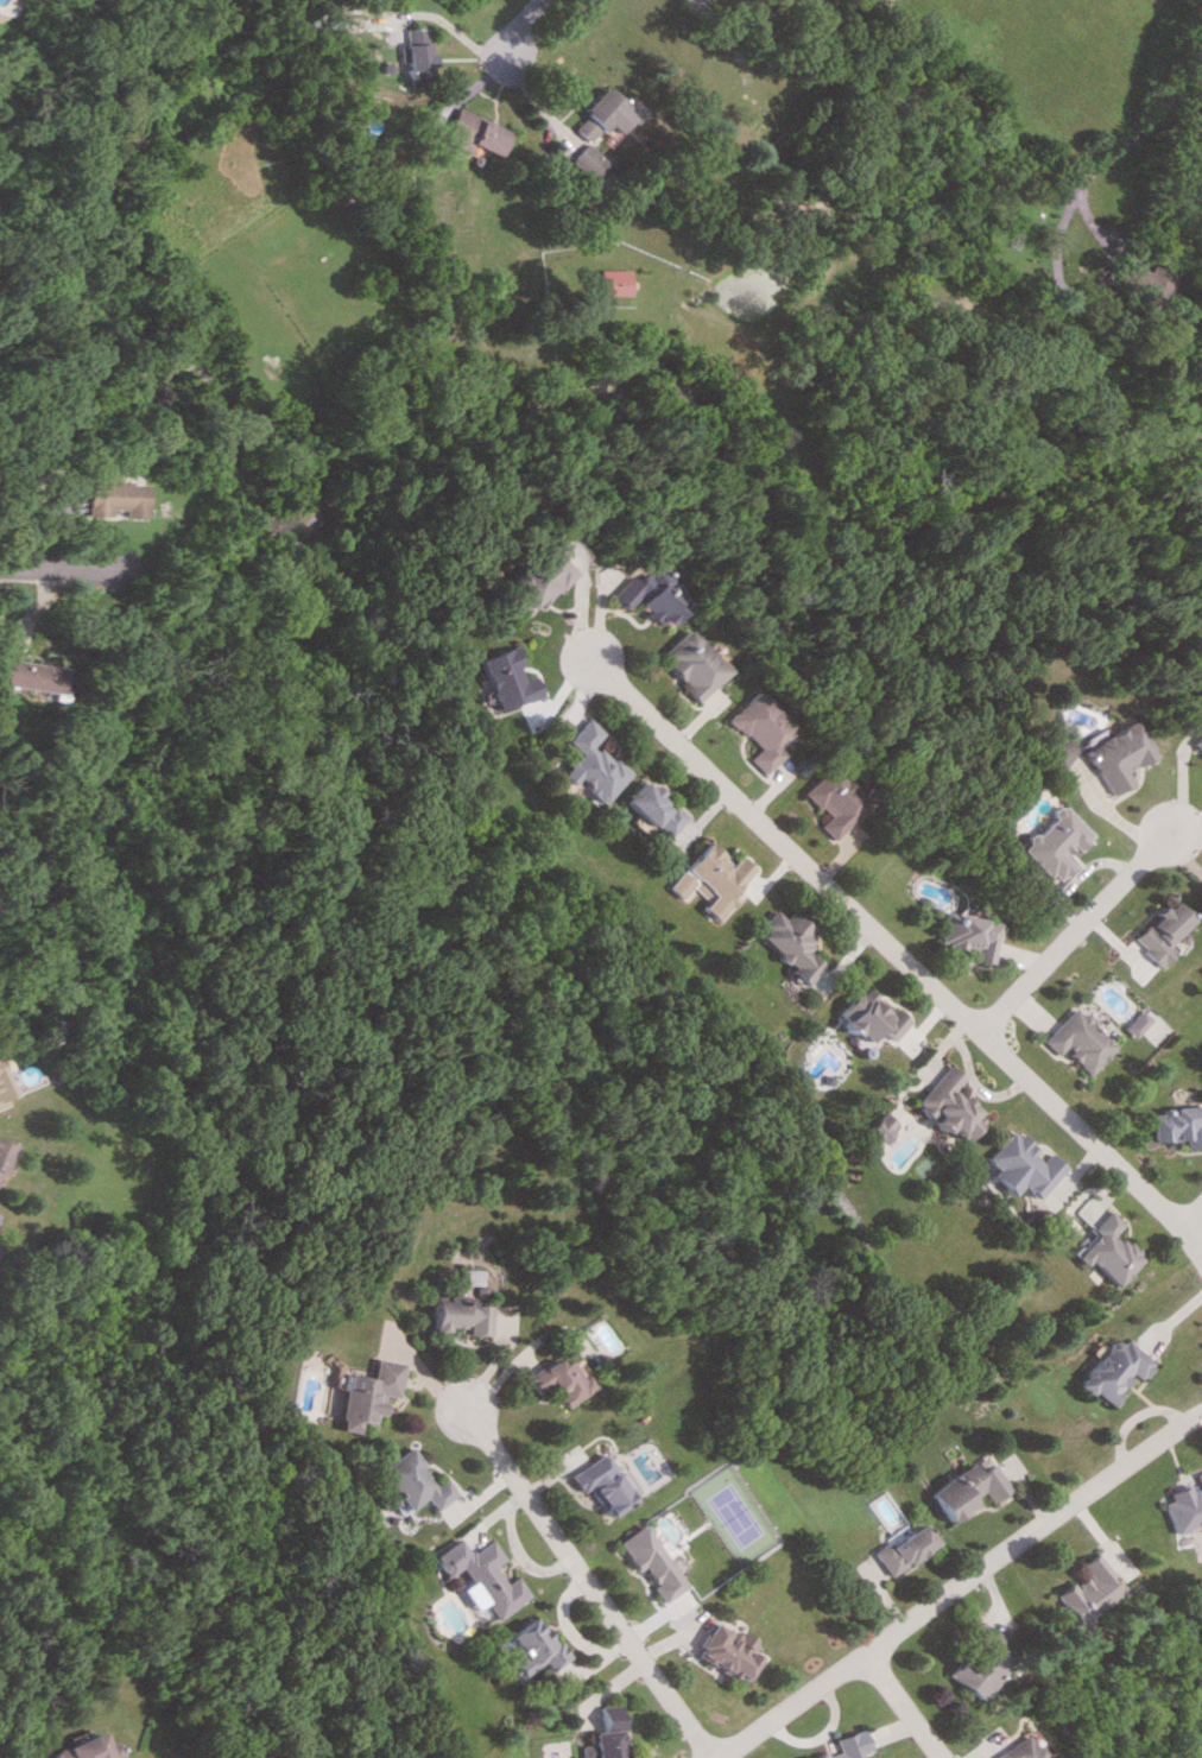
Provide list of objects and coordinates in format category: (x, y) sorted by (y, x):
road: (424, 14)
road: (518, 31)
building: (407, 52)
building: (602, 114)
building: (467, 133)
road: (1134, 134)
building: (581, 162)
building: (608, 282)
building: (1139, 289)
road: (1075, 295)
road: (56, 567)
building: (534, 581)
building: (645, 594)
building: (1196, 653)
building: (690, 663)
building: (29, 676)
building: (504, 678)
building: (763, 729)
building: (1196, 742)
building: (1055, 751)
building: (1116, 755)
building: (589, 764)
building: (835, 802)
building: (653, 808)
building: (1057, 842)
building: (710, 879)
building: (1164, 932)
building: (972, 935)
road: (1078, 935)
building: (789, 943)
road: (897, 949)
building: (868, 1016)
building: (1140, 1023)
building: (1082, 1039)
building: (2, 1087)
building: (0, 1105)
building: (945, 1106)
building: (1179, 1125)
building: (874, 1128)
building: (2, 1150)
building: (1020, 1165)
road: (1194, 1220)
building: (1107, 1250)
building: (461, 1315)
building: (1114, 1370)
building: (559, 1379)
building: (365, 1393)
building: (412, 1481)
building: (606, 1484)
building: (969, 1488)
building: (1184, 1507)
building: (907, 1548)
building: (653, 1562)
building: (479, 1576)
road: (591, 1582)
road: (964, 1587)
building: (1088, 1592)
road: (1143, 1600)
building: (536, 1648)
building: (730, 1650)
building: (979, 1661)
park: (1128, 1663)
road: (905, 1707)
building: (609, 1735)
building: (847, 1746)
building: (88, 1748)
building: (1016, 1750)

